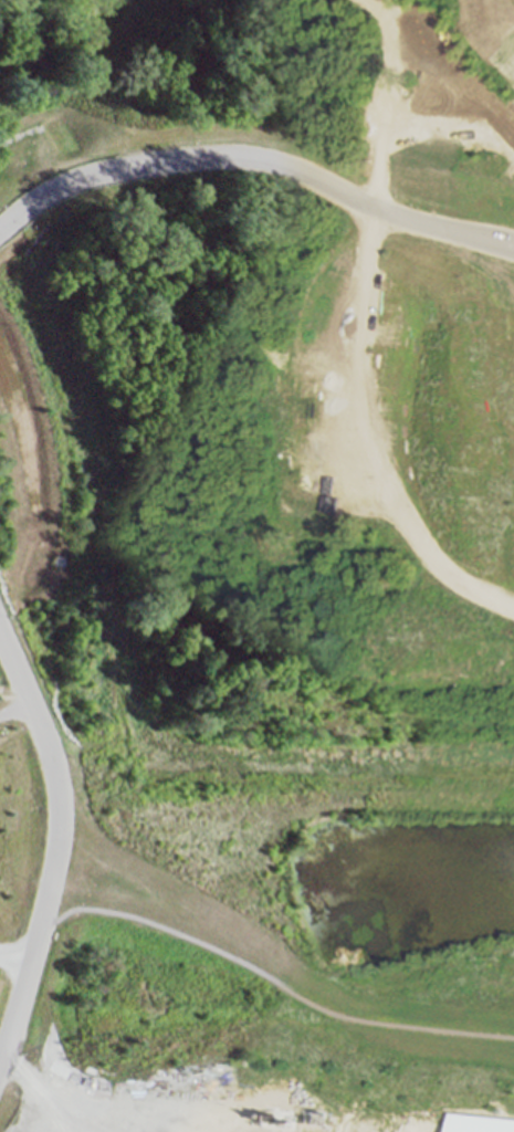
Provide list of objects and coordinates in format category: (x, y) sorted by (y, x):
road: (259, 159)
road: (365, 440)
road: (50, 839)
road: (11, 957)

